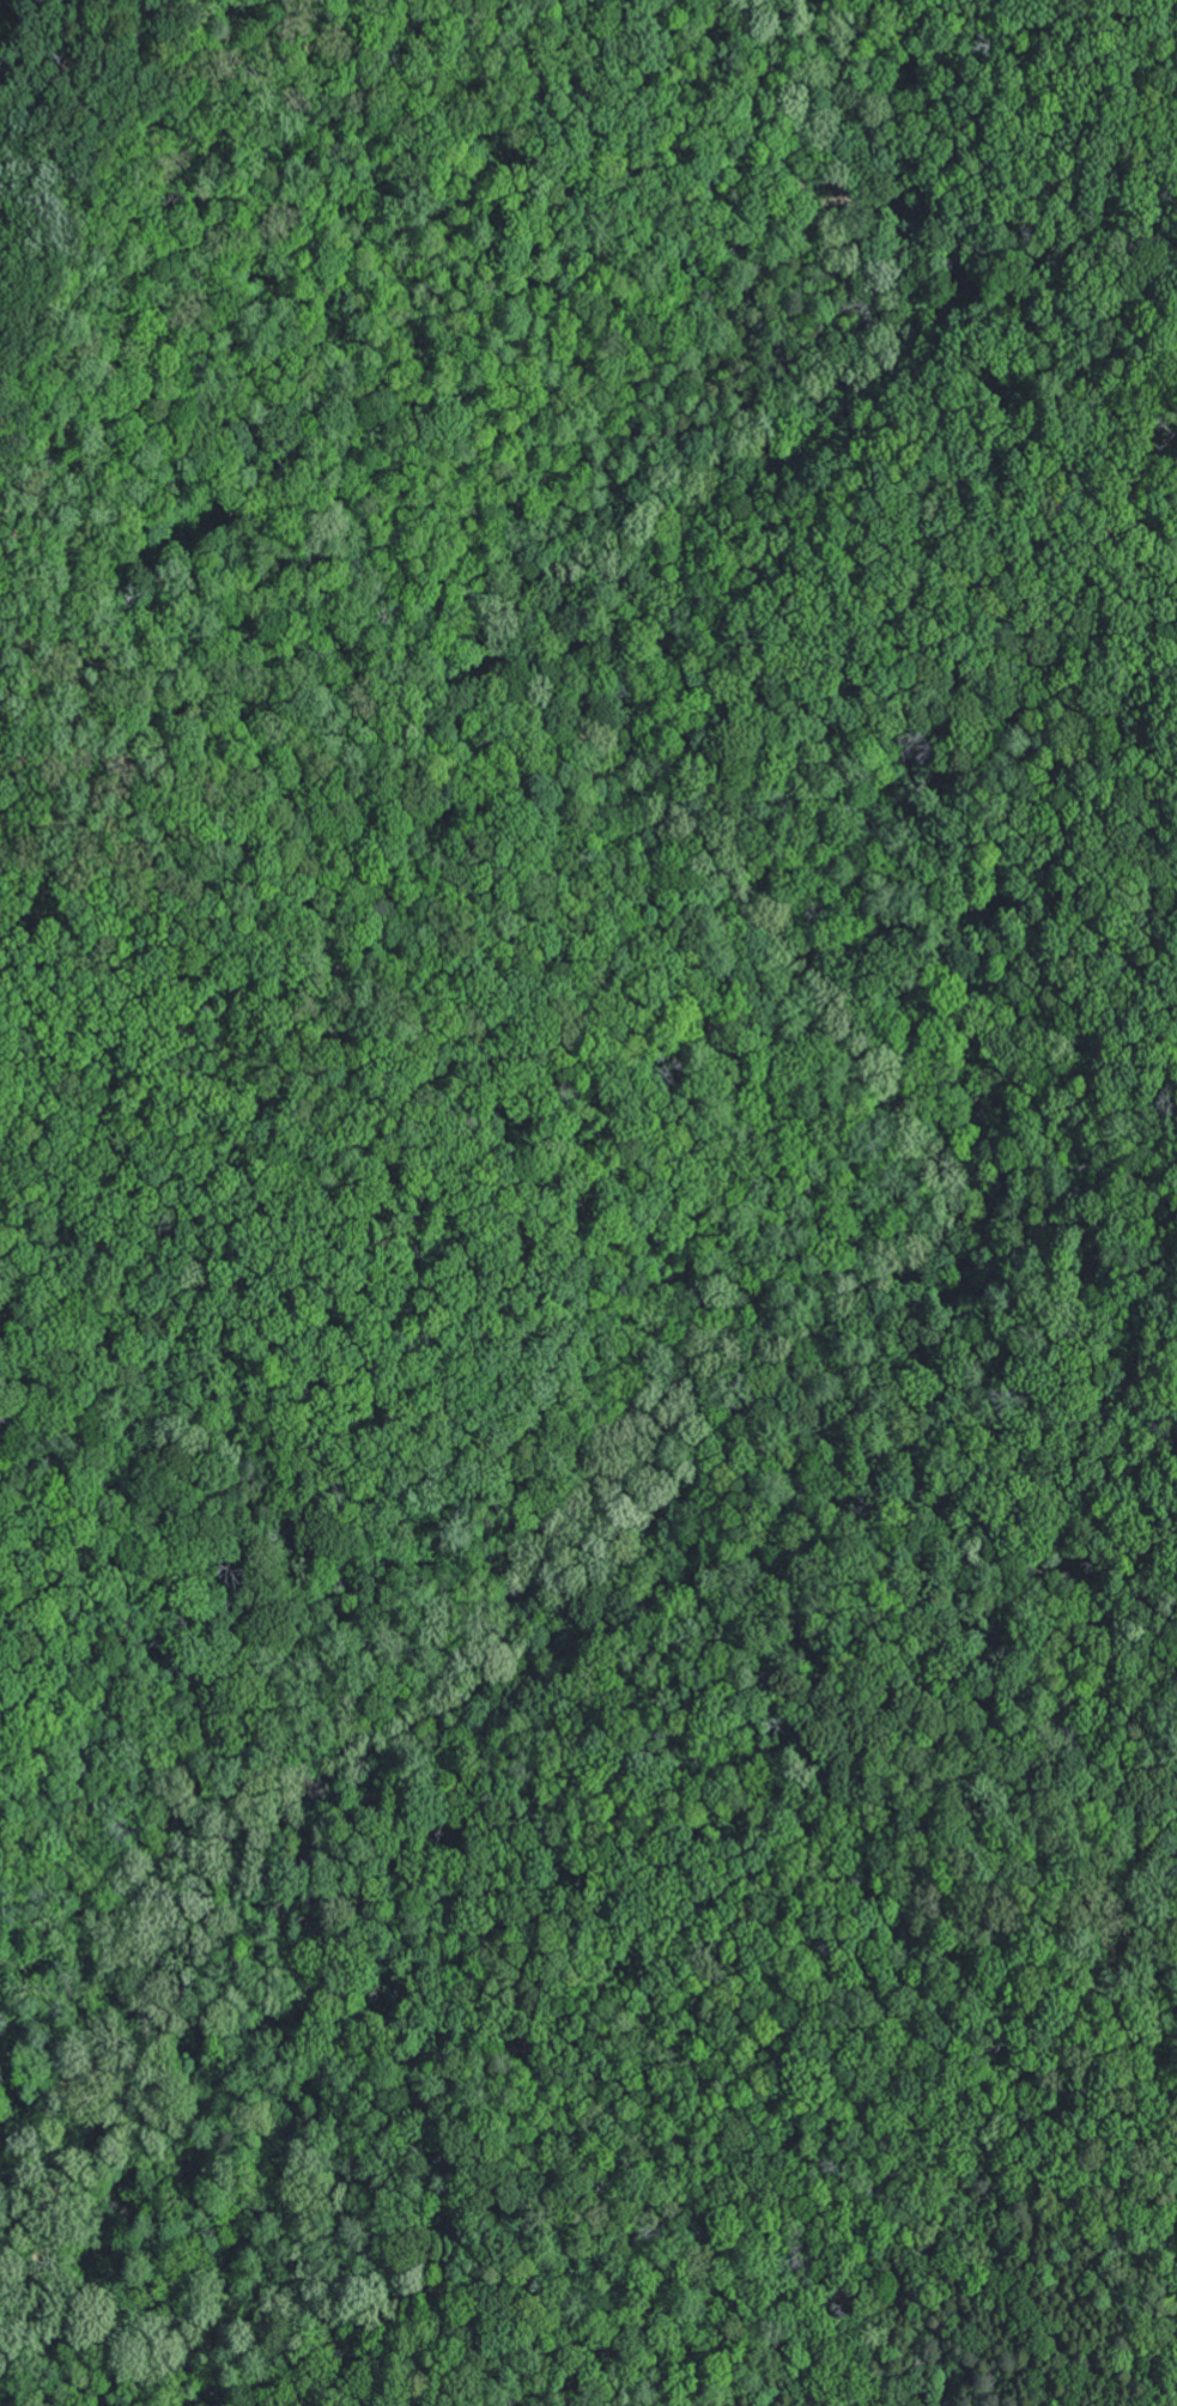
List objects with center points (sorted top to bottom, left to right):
road: (619, 204)
road: (90, 262)
road: (48, 784)

